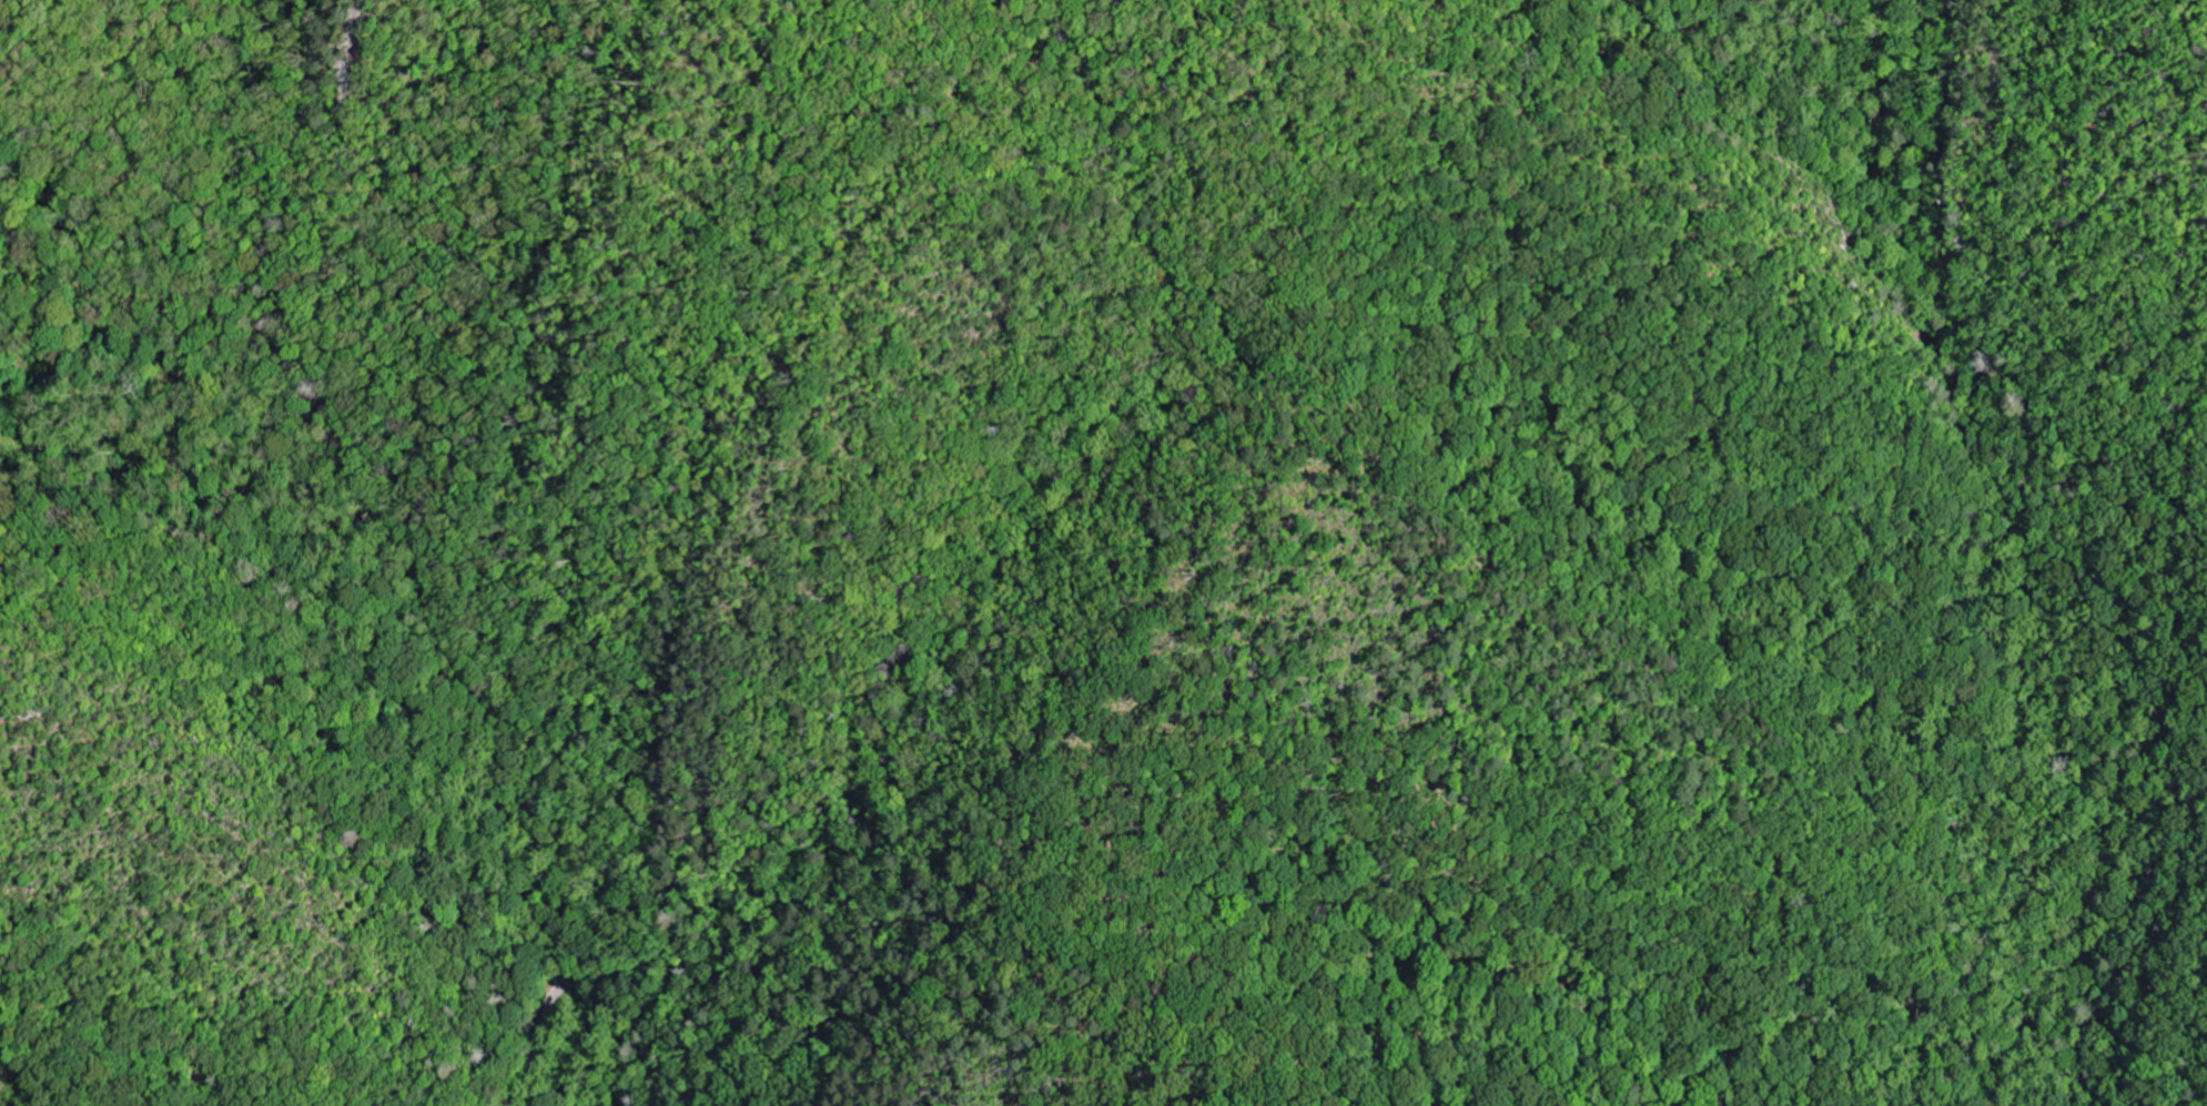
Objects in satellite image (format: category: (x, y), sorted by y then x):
road: (577, 983)

